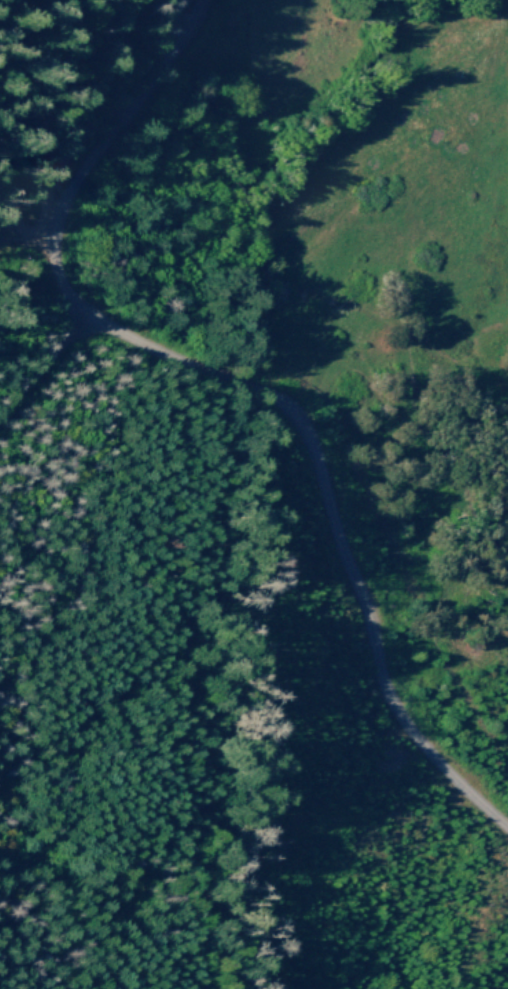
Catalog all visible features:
road: (46, 365)
road: (241, 386)

